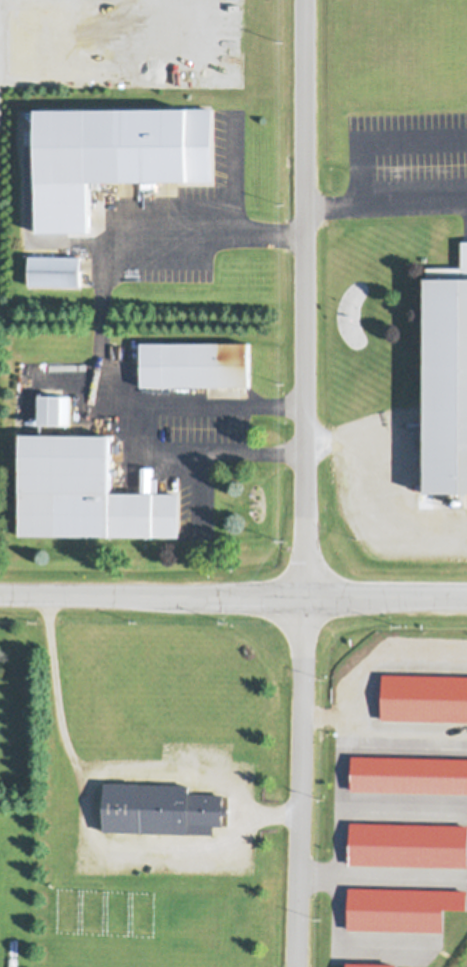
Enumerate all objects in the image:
road: (381, 136)
building: (150, 139)
road: (385, 205)
building: (89, 218)
building: (55, 267)
road: (304, 298)
road: (99, 320)
building: (206, 361)
building: (447, 374)
building: (189, 389)
building: (53, 407)
road: (195, 451)
road: (380, 485)
building: (85, 488)
road: (233, 596)
road: (106, 766)
road: (299, 781)
building: (160, 807)

